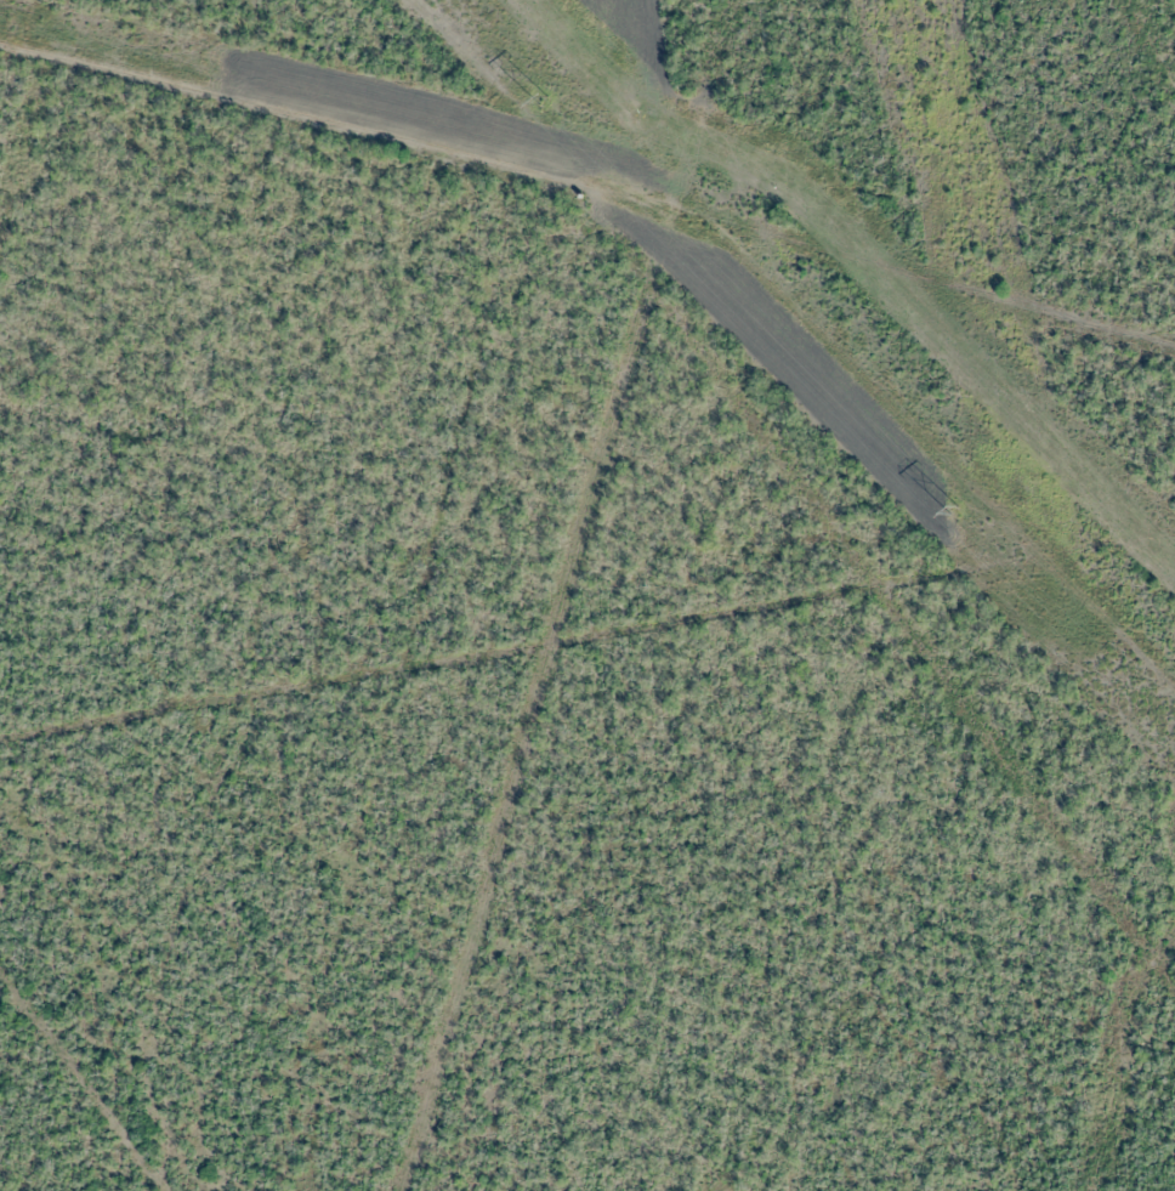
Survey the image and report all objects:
power tower: (541, 102)
power tower: (954, 511)

